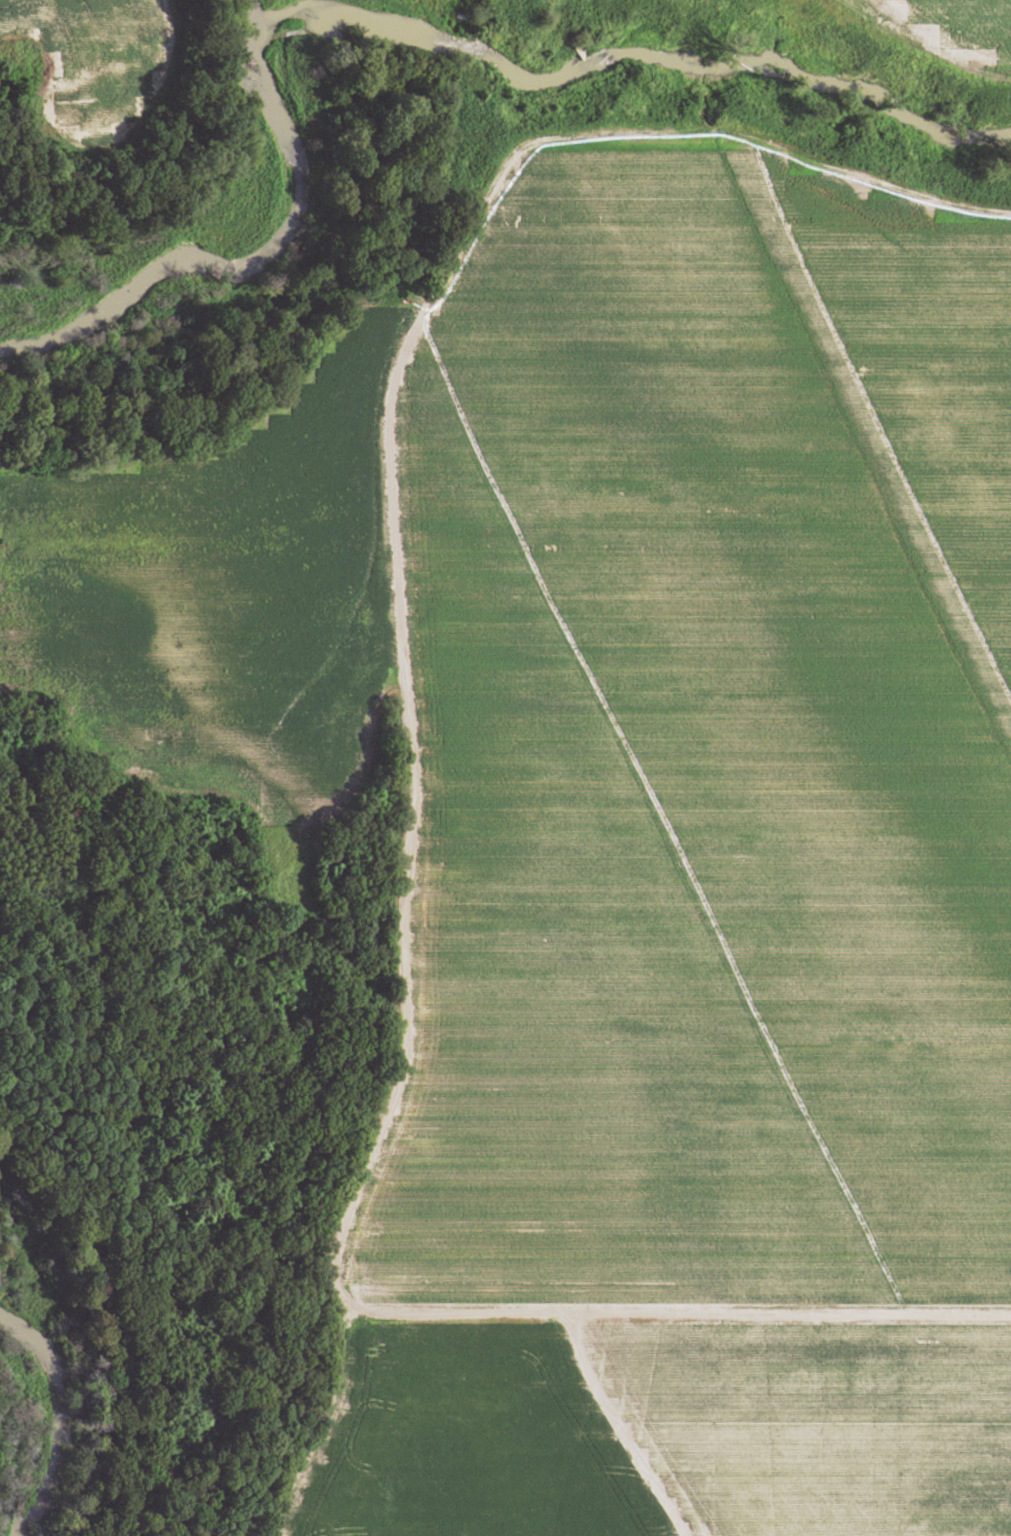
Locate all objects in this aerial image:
road: (17, 22)
river: (245, 244)
road: (387, 589)
road: (674, 1309)
river: (42, 1421)

